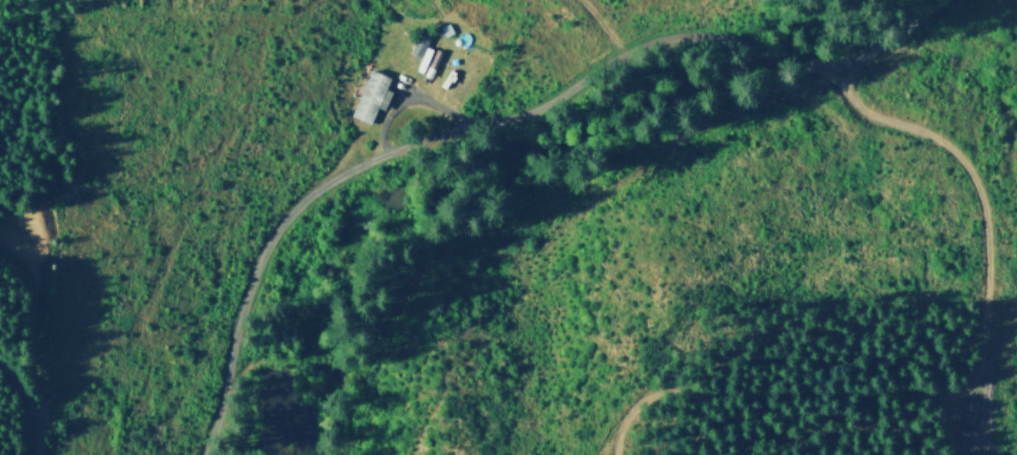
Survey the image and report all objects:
building: (455, 26)
building: (423, 44)
building: (373, 95)
road: (419, 99)
road: (493, 125)
road: (972, 383)
road: (32, 401)

